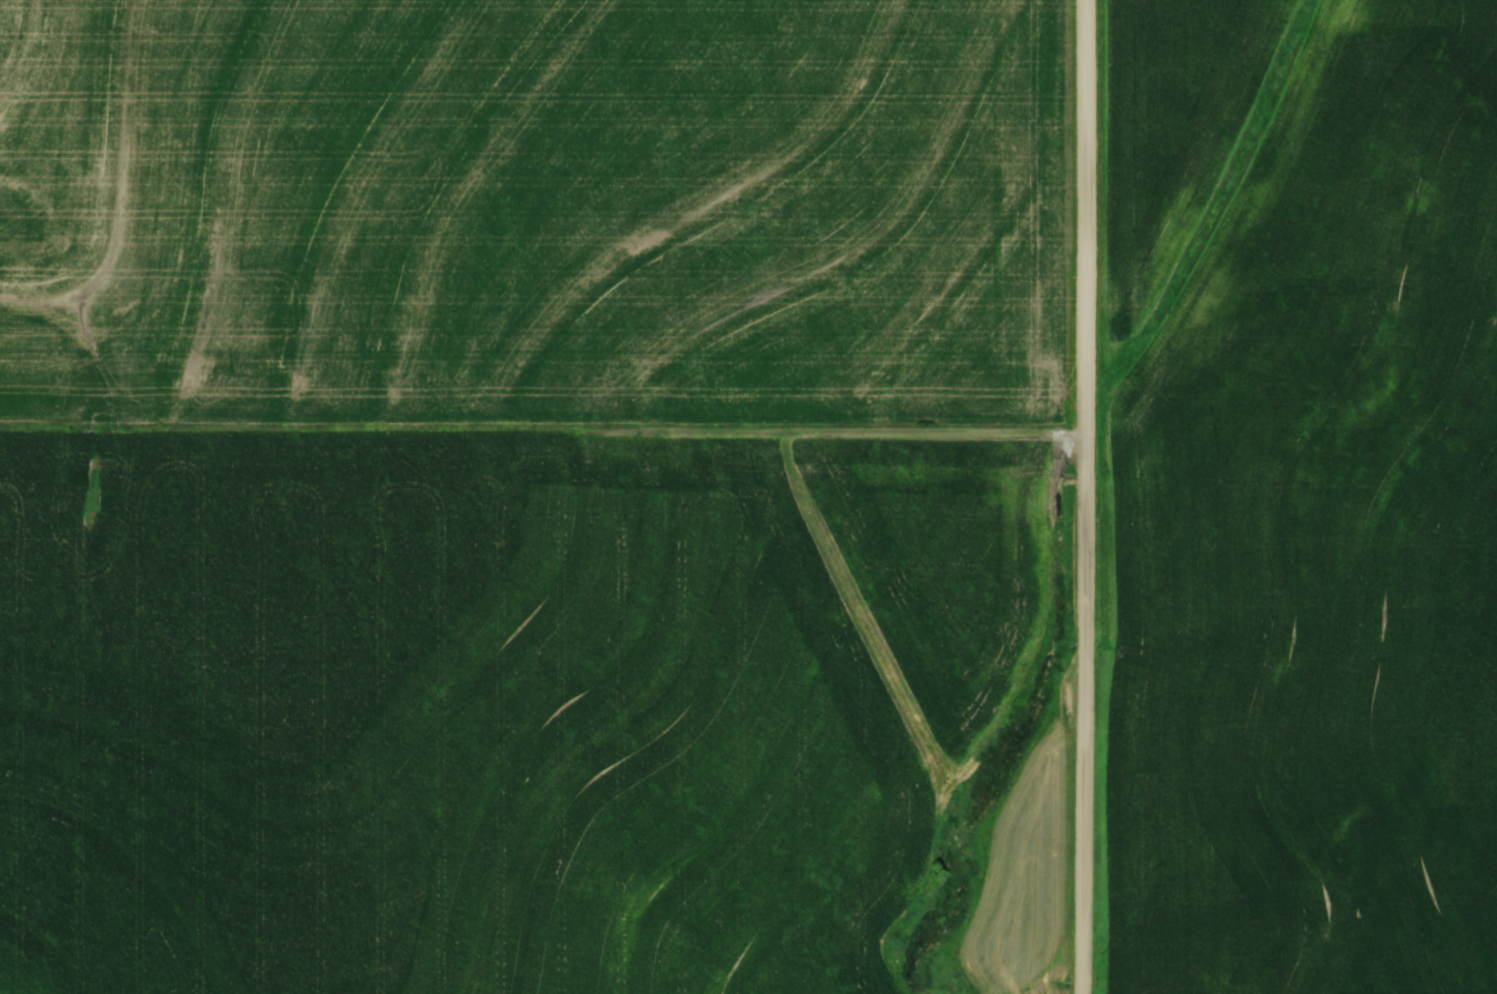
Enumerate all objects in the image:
road: (1090, 497)

